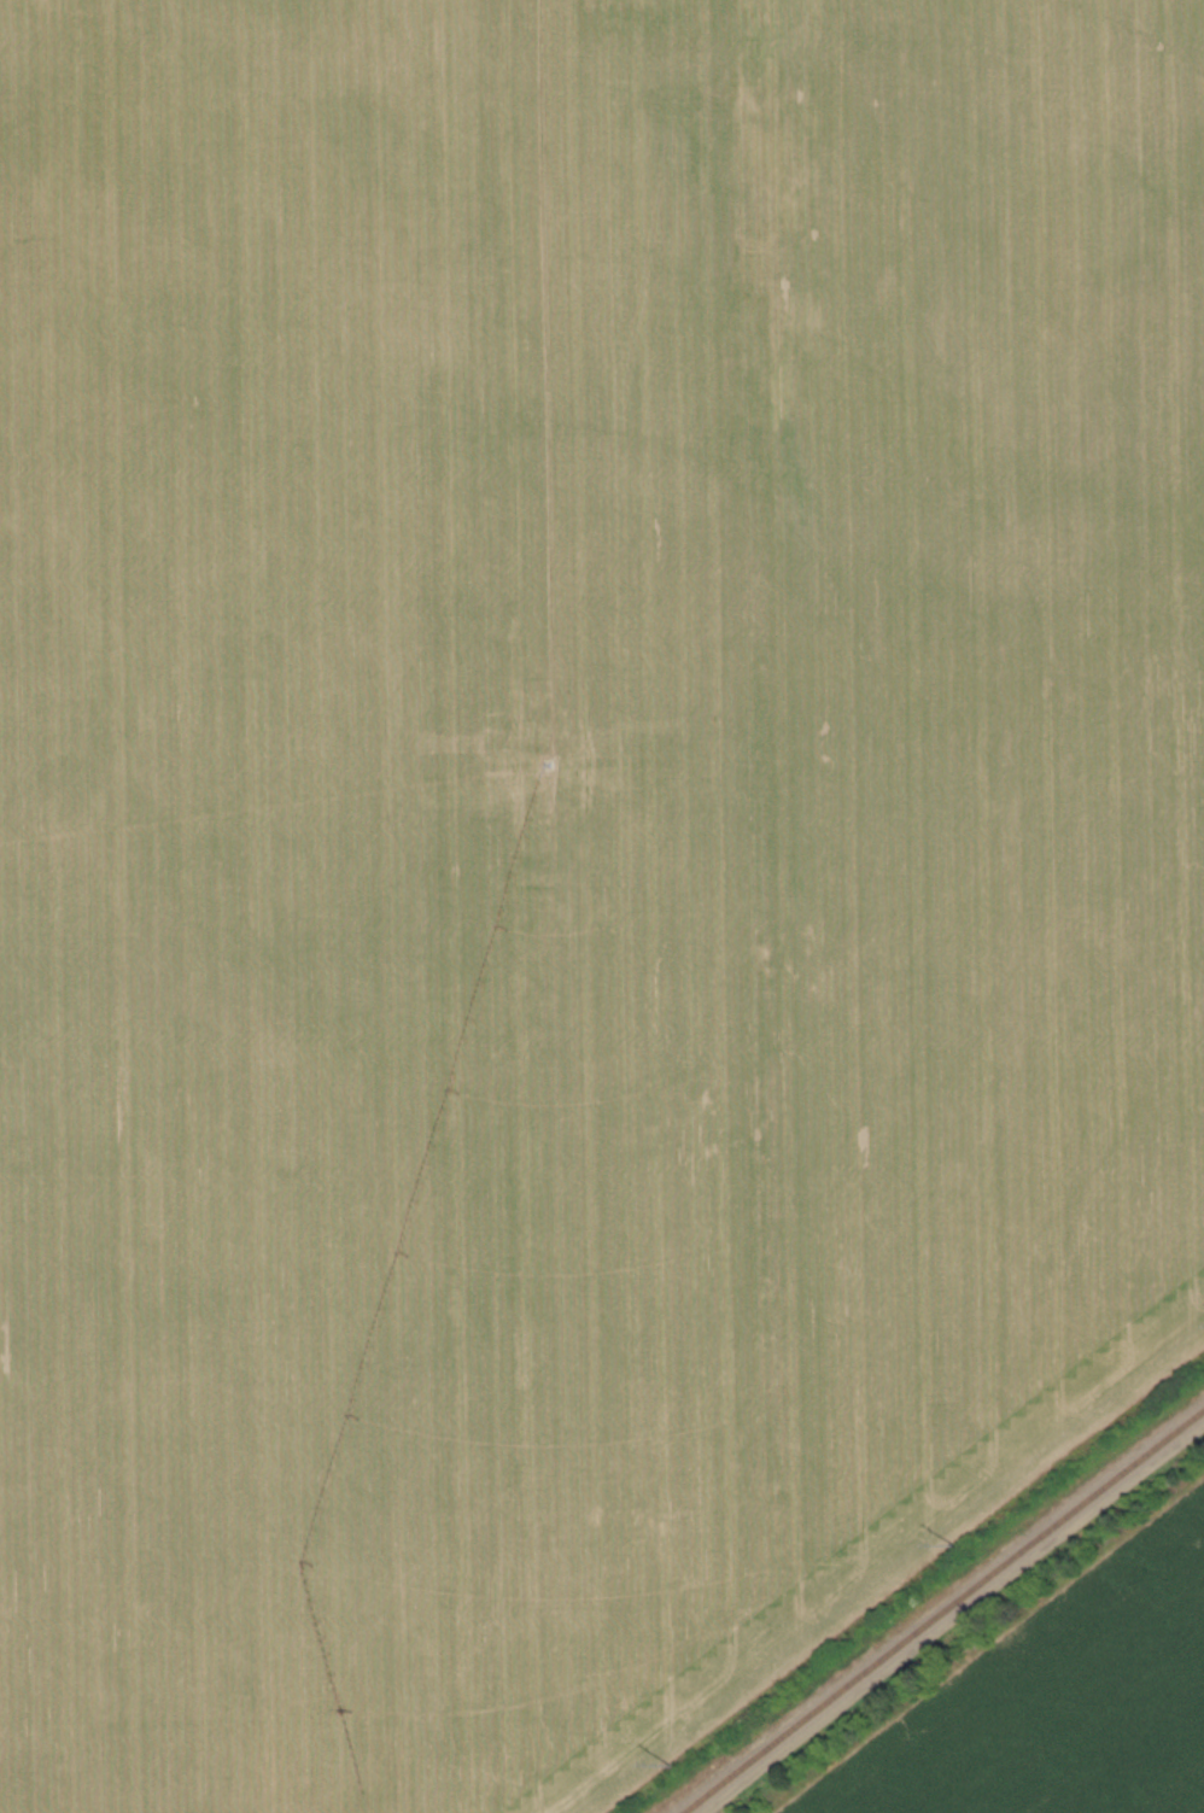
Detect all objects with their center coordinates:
building: (742, 201)
building: (800, 302)
crop: (574, 855)
railway: (937, 1604)
crop: (1058, 1700)

